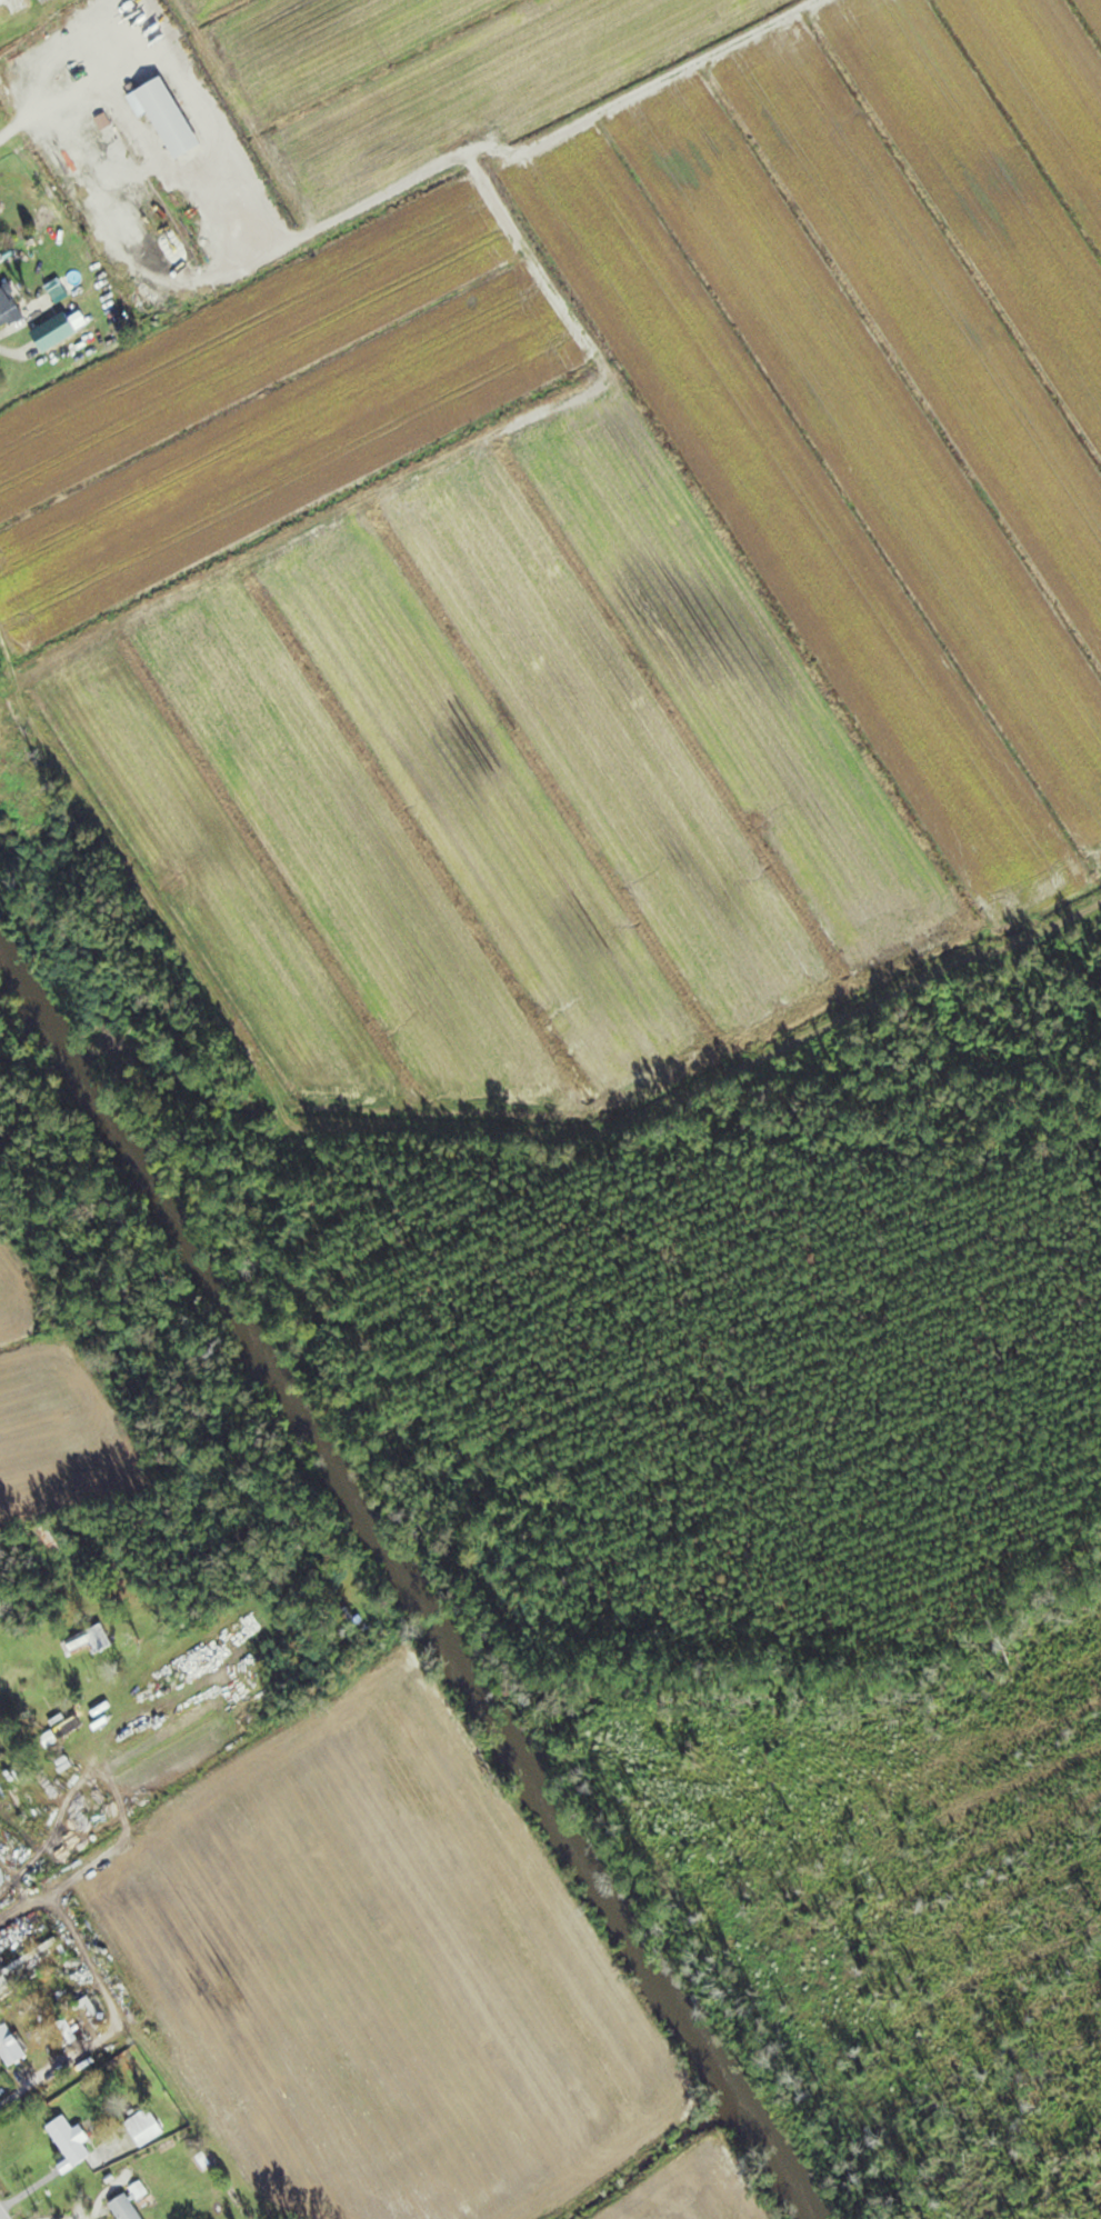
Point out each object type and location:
building: (14, 8)
building: (172, 116)
building: (47, 206)
building: (12, 306)
building: (53, 1539)
building: (93, 1641)
building: (66, 1721)
building: (7, 1985)
building: (12, 2043)
building: (150, 2126)
building: (73, 2140)
building: (130, 2208)
road: (2, 2213)

